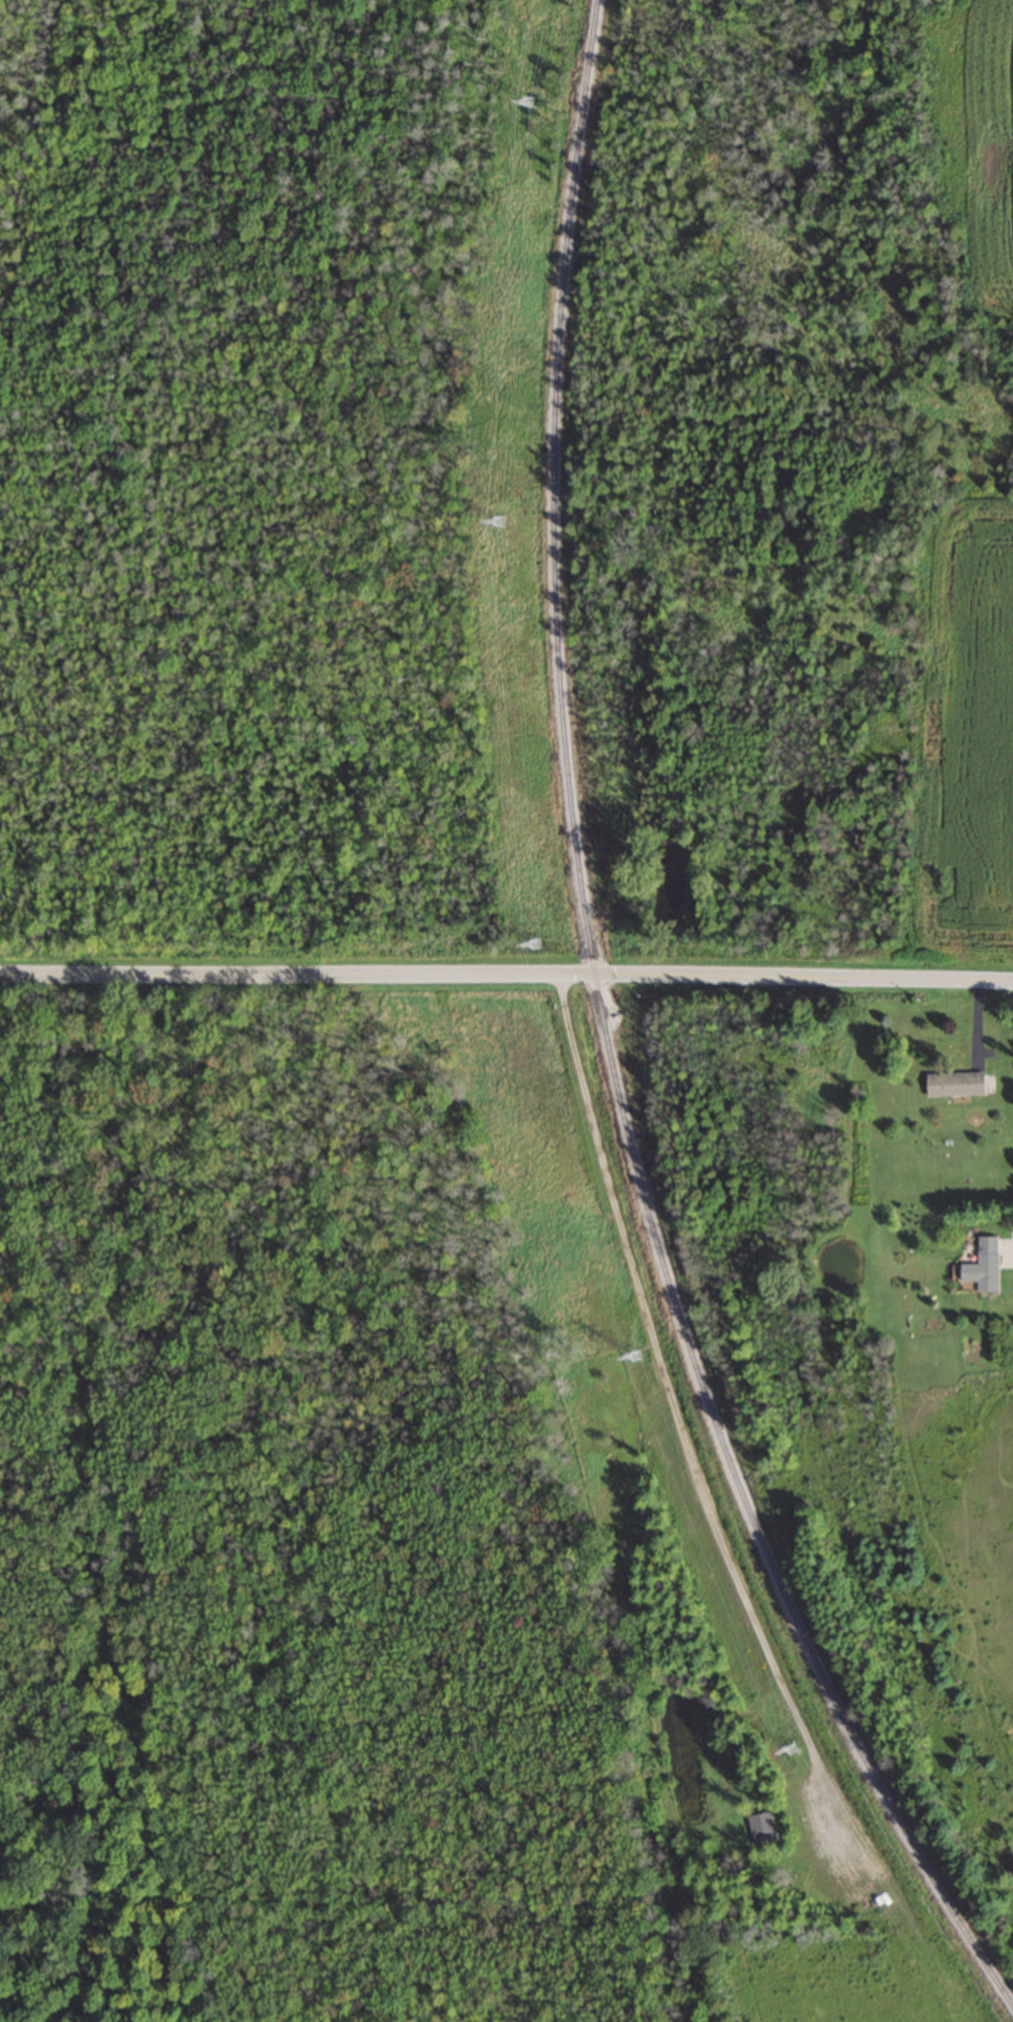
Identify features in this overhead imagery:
road: (506, 972)
railway: (609, 1041)
building: (959, 1082)
building: (991, 1261)
building: (761, 1826)

